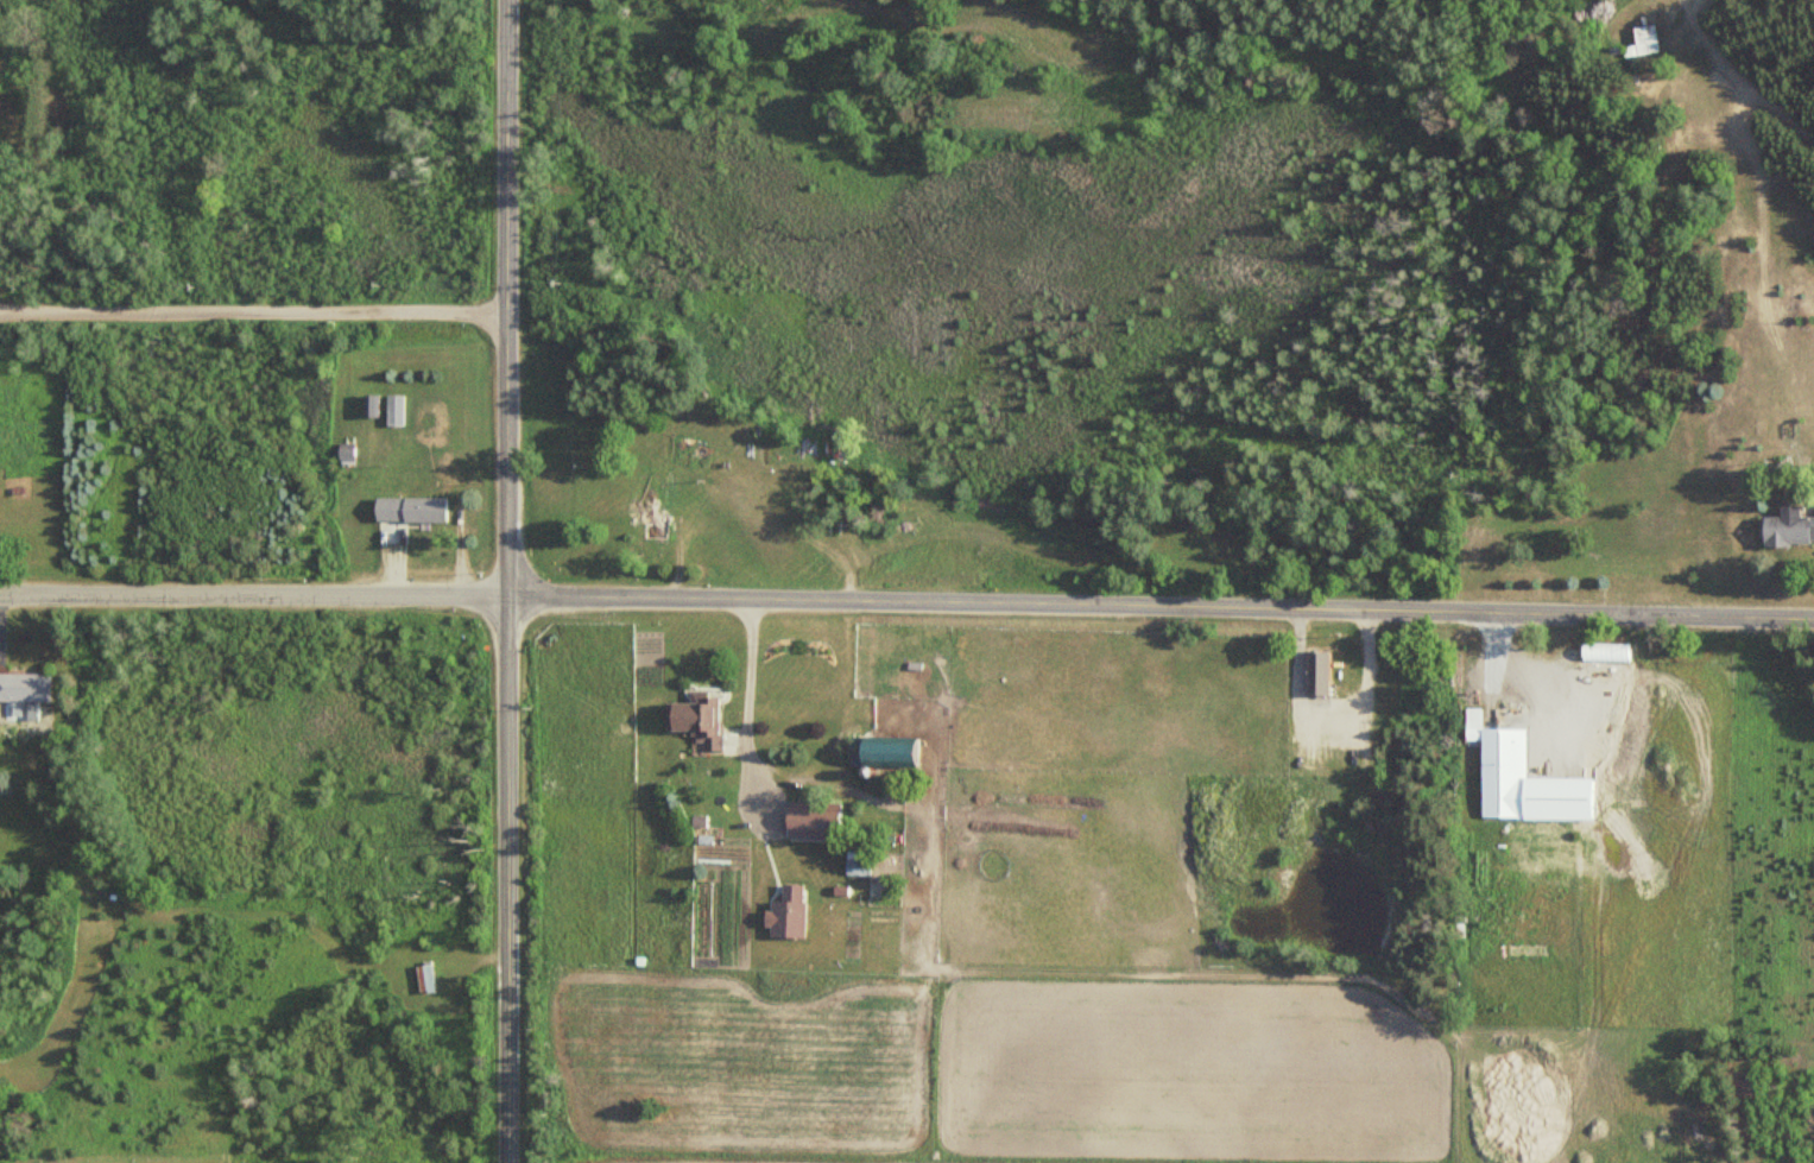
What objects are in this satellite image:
building: (1643, 40)
road: (253, 314)
building: (371, 404)
building: (346, 451)
building: (411, 508)
building: (653, 526)
building: (1789, 530)
road: (508, 581)
road: (254, 596)
road: (1162, 606)
building: (1607, 651)
building: (1320, 670)
building: (25, 687)
road: (1329, 697)
building: (704, 719)
building: (885, 751)
building: (1504, 769)
building: (810, 818)
building: (760, 846)
building: (428, 978)

